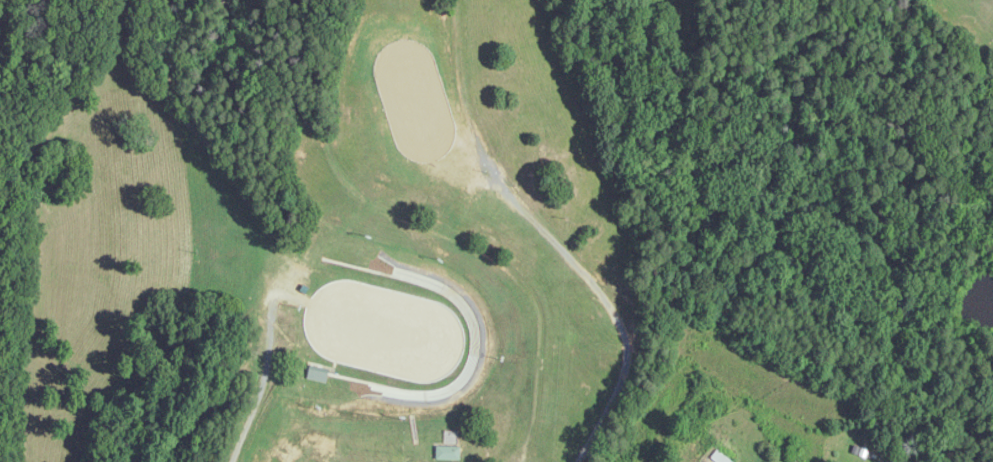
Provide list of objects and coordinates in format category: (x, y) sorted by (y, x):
road: (293, 231)
road: (568, 235)
building: (447, 453)
road: (470, 453)
building: (722, 458)

